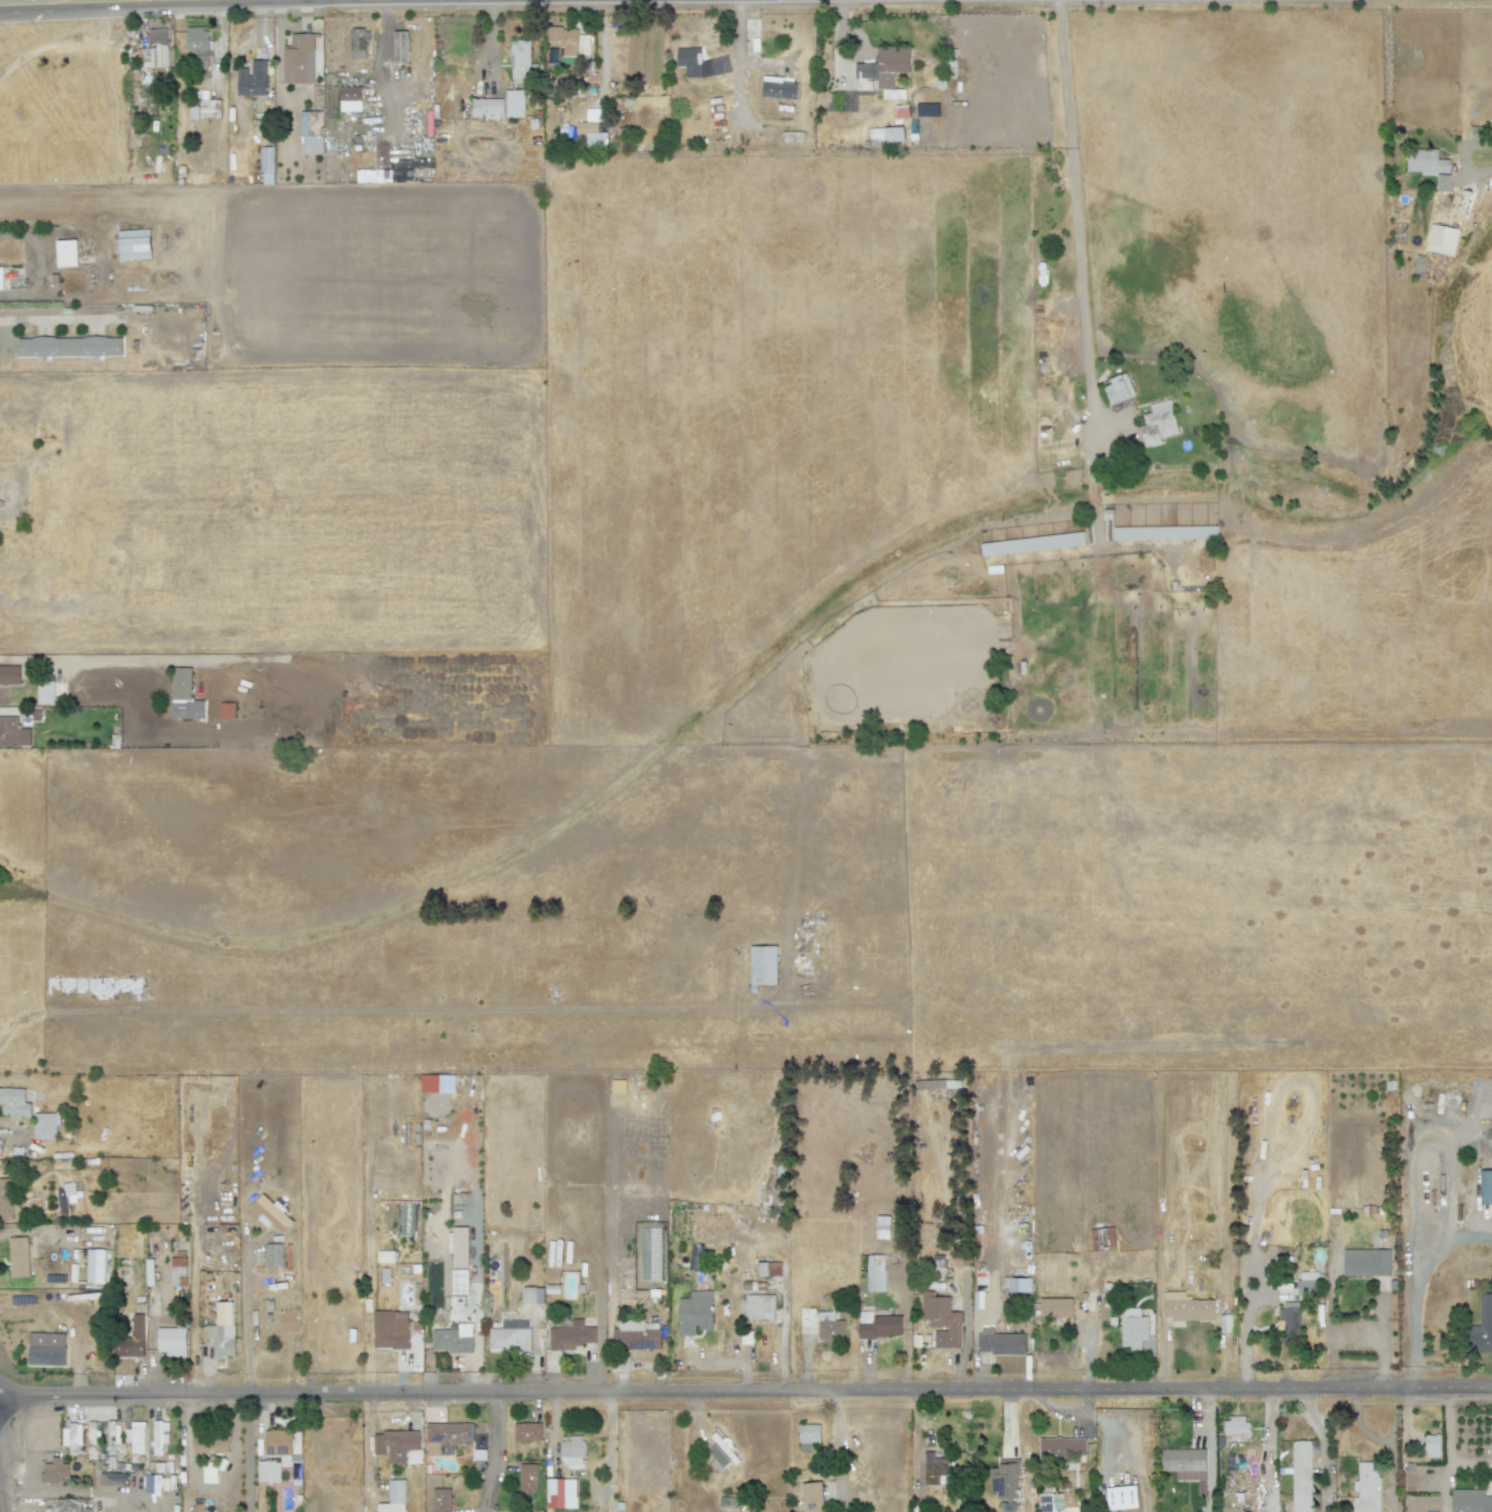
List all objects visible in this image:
road: (71, 7)
building: (753, 28)
building: (197, 38)
building: (565, 39)
road: (838, 41)
building: (359, 42)
building: (399, 47)
road: (737, 49)
building: (155, 50)
building: (300, 59)
building: (522, 59)
building: (202, 60)
building: (703, 64)
building: (887, 64)
building: (252, 79)
building: (780, 88)
building: (352, 96)
building: (517, 101)
building: (211, 104)
building: (488, 107)
building: (190, 111)
building: (313, 132)
building: (591, 135)
building: (885, 136)
building: (267, 161)
building: (1426, 162)
building: (307, 180)
building: (1442, 182)
road: (1073, 213)
building: (1441, 240)
building: (135, 244)
building: (68, 252)
building: (13, 278)
building: (69, 347)
building: (1117, 389)
building: (1158, 424)
building: (1, 504)
road: (79, 659)
building: (11, 675)
building: (52, 692)
building: (184, 696)
building: (226, 711)
building: (108, 720)
building: (10, 732)
building: (763, 966)
road: (372, 1010)
building: (437, 1084)
building: (936, 1084)
building: (618, 1086)
building: (14, 1104)
building: (45, 1127)
building: (1485, 1187)
building: (70, 1189)
building: (5, 1200)
building: (271, 1214)
building: (884, 1228)
building: (1104, 1239)
building: (458, 1247)
building: (276, 1254)
building: (385, 1256)
building: (18, 1257)
building: (220, 1261)
building: (693, 1263)
building: (1368, 1263)
building: (95, 1266)
building: (939, 1269)
building: (763, 1270)
building: (777, 1270)
building: (179, 1273)
building: (877, 1273)
building: (129, 1277)
building: (461, 1282)
building: (517, 1282)
building: (1307, 1283)
building: (1019, 1285)
building: (758, 1286)
building: (939, 1286)
building: (983, 1289)
building: (530, 1292)
building: (139, 1293)
road: (1412, 1296)
building: (978, 1300)
building: (984, 1304)
building: (270, 1306)
building: (760, 1308)
building: (1055, 1308)
building: (1186, 1308)
building: (697, 1313)
building: (941, 1314)
building: (808, 1315)
building: (255, 1318)
building: (270, 1320)
building: (289, 1322)
building: (1225, 1323)
building: (1286, 1323)
building: (882, 1326)
road: (244, 1327)
building: (419, 1327)
building: (834, 1327)
building: (392, 1330)
building: (1136, 1332)
building: (573, 1336)
building: (637, 1337)
building: (513, 1338)
building: (223, 1340)
building: (454, 1340)
building: (1481, 1340)
building: (133, 1341)
building: (173, 1342)
building: (1003, 1343)
building: (46, 1349)
road: (746, 1392)
road: (1065, 1413)
building: (1238, 1427)
building: (527, 1432)
building: (811, 1434)
road: (1269, 1436)
building: (72, 1437)
building: (113, 1437)
building: (159, 1437)
building: (446, 1437)
building: (136, 1438)
building: (92, 1441)
road: (1380, 1443)
building: (1434, 1444)
building: (211, 1445)
building: (397, 1445)
building: (1062, 1449)
road: (1322, 1449)
building: (574, 1452)
road: (247, 1453)
road: (495, 1453)
building: (722, 1454)
building: (281, 1457)
building: (112, 1464)
building: (76, 1467)
building: (122, 1467)
building: (1188, 1467)
building: (937, 1468)
building: (55, 1471)
building: (209, 1472)
building: (527, 1477)
building: (116, 1479)
building: (1298, 1479)
building: (1006, 1482)
building: (167, 1483)
building: (152, 1484)
building: (562, 1488)
building: (1366, 1488)
building: (389, 1492)
building: (1253, 1492)
road: (63, 1494)
building: (1121, 1497)
building: (813, 1498)
building: (441, 1500)
building: (1471, 1501)
building: (1048, 1502)
building: (729, 1504)
building: (940, 1504)
building: (64, 1505)
building: (177, 1508)

